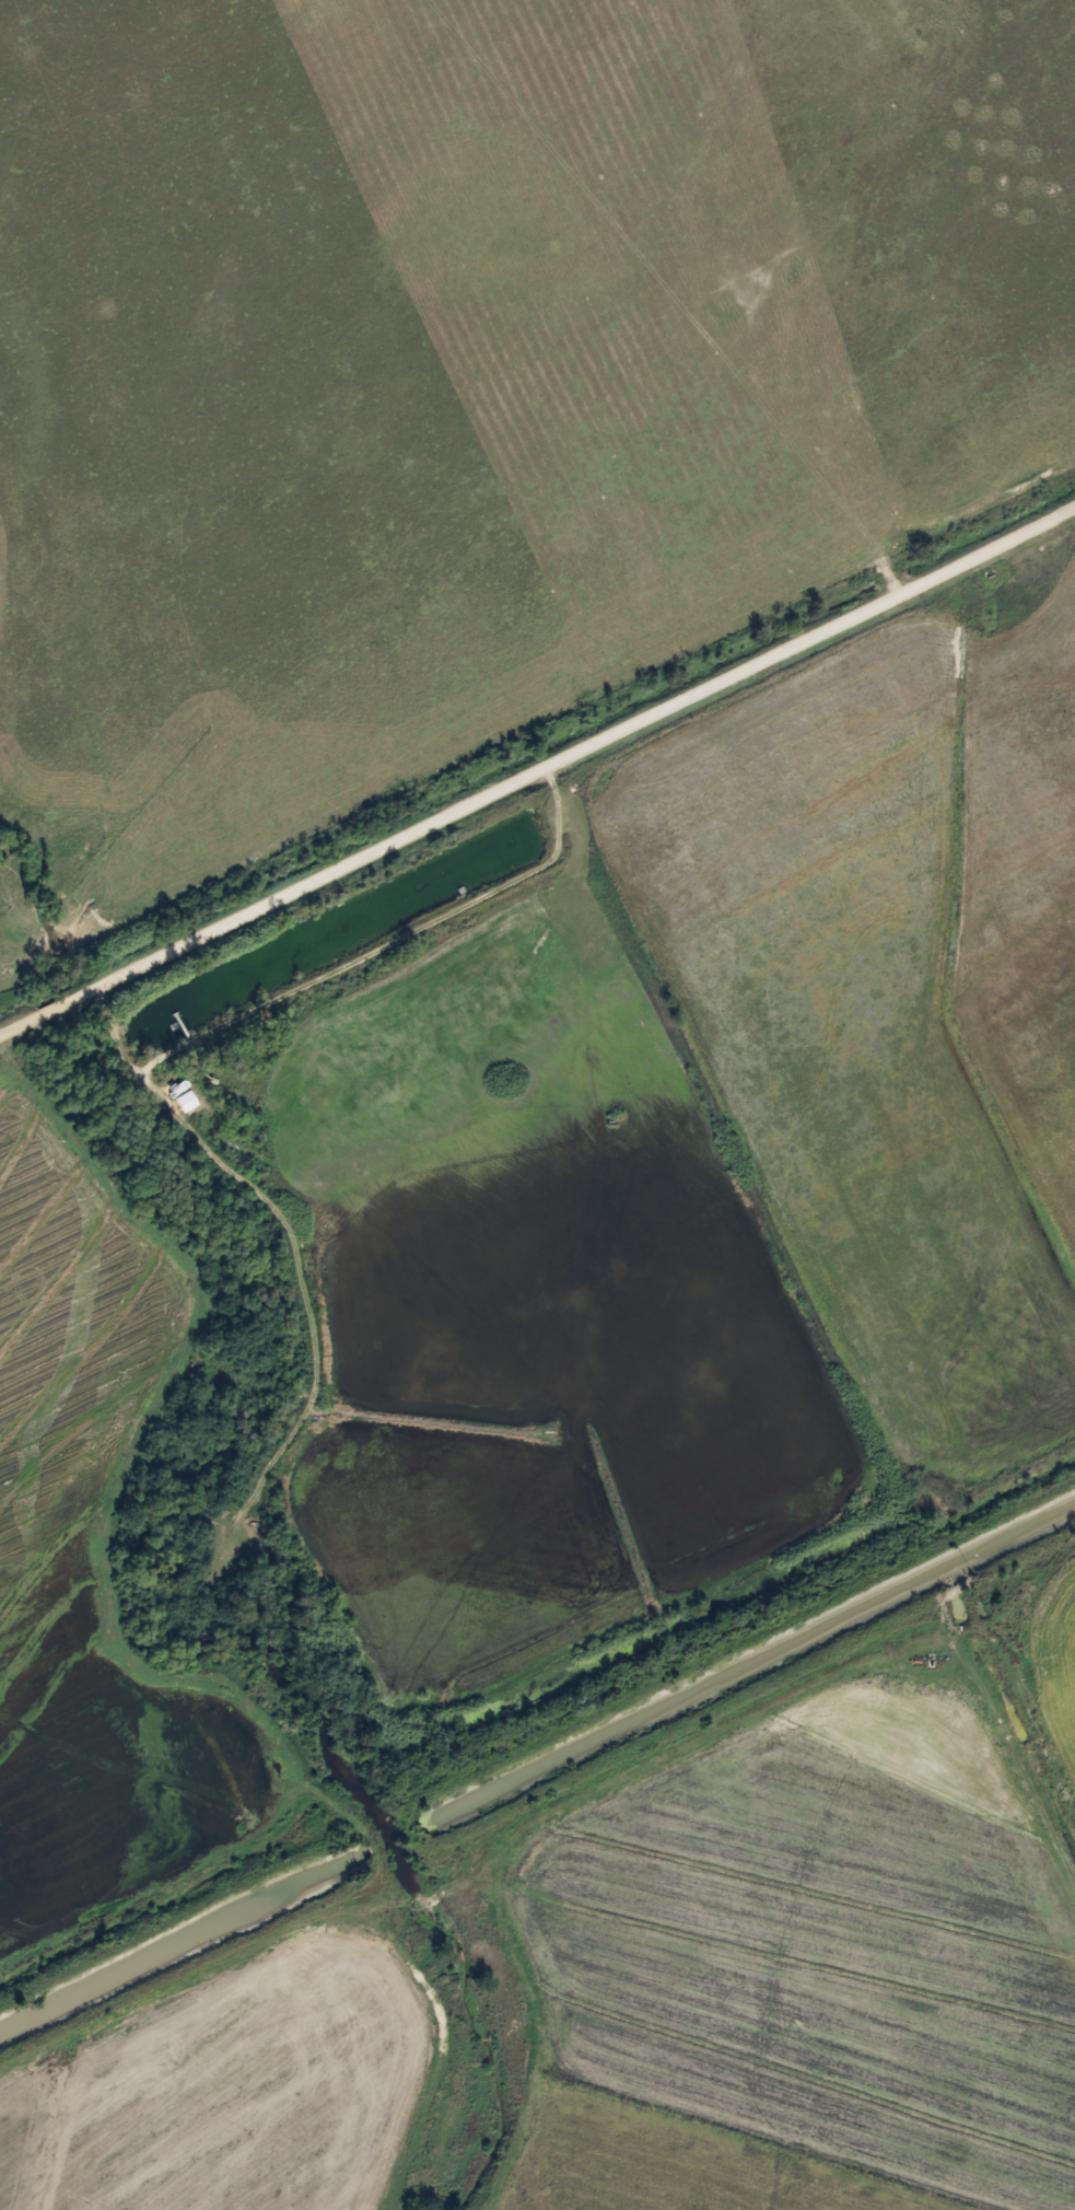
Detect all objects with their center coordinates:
road: (537, 771)

